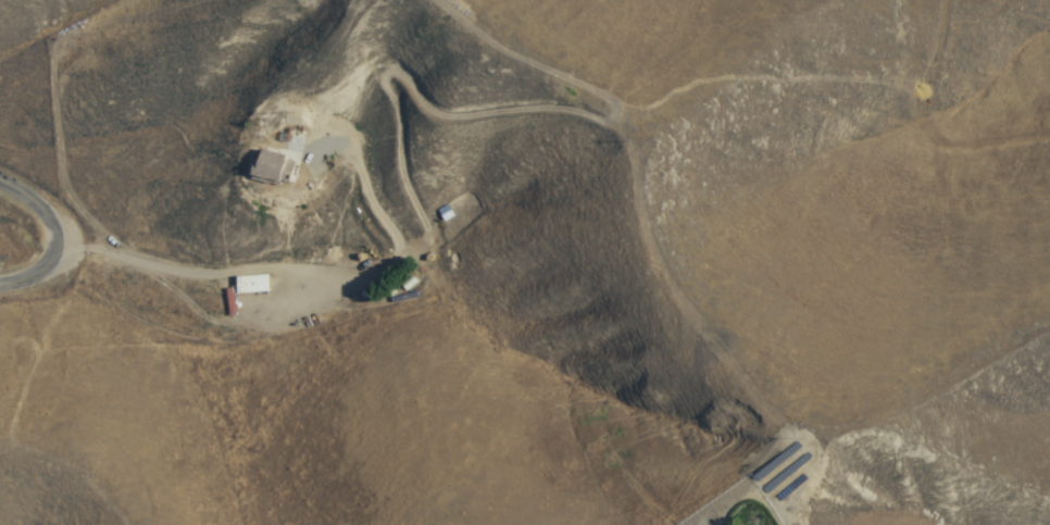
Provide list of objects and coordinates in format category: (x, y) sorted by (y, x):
road: (932, 154)
building: (275, 167)
road: (59, 233)
road: (279, 270)
building: (250, 284)

